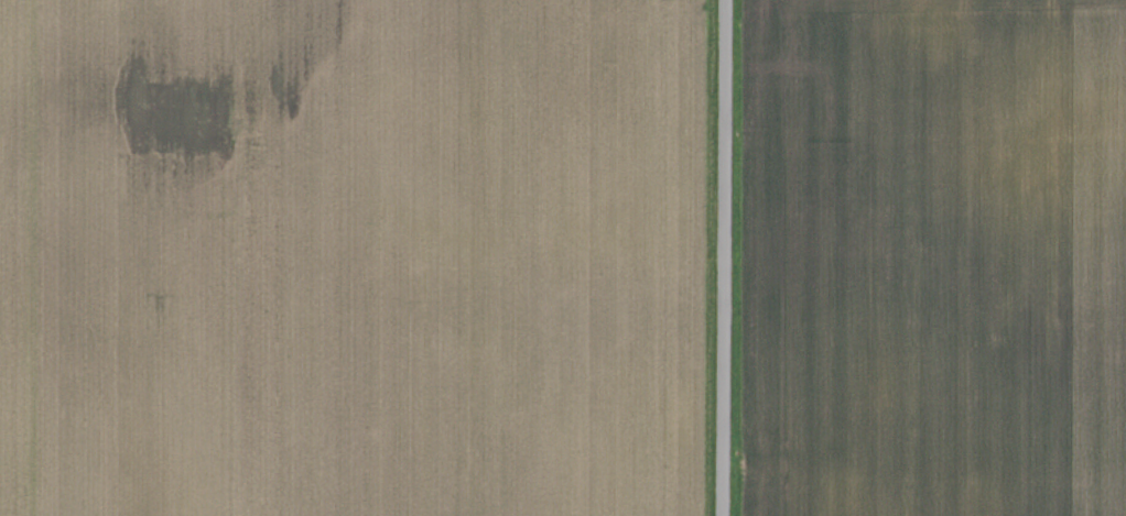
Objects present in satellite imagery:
road: (725, 257)

